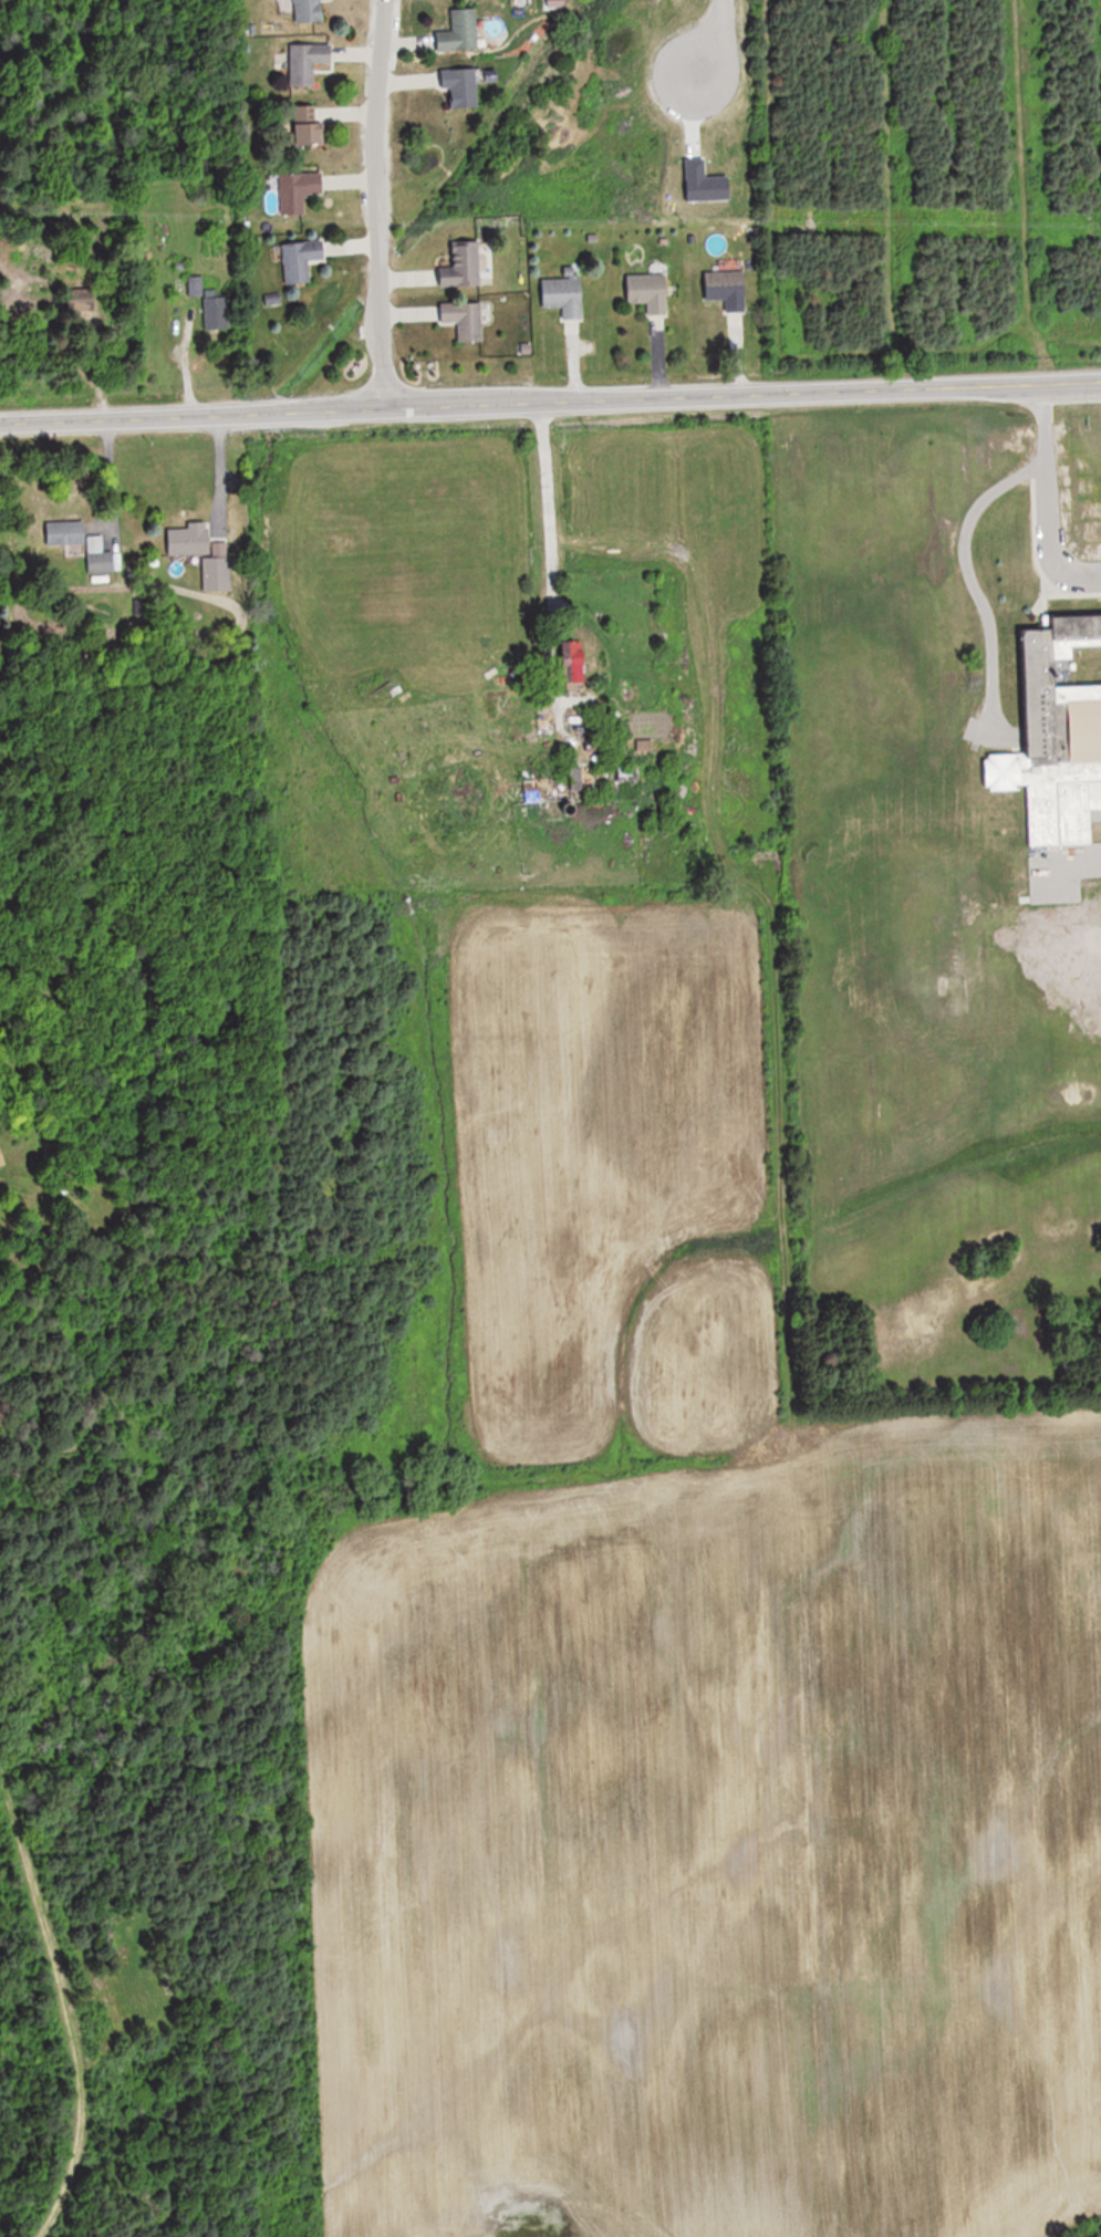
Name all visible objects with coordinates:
building: (310, 12)
building: (460, 32)
road: (713, 39)
building: (312, 65)
building: (463, 86)
building: (311, 127)
building: (299, 190)
road: (374, 202)
building: (302, 260)
building: (463, 264)
building: (728, 289)
building: (196, 291)
building: (650, 292)
building: (564, 295)
building: (217, 312)
building: (466, 320)
road: (550, 400)
road: (541, 498)
road: (1037, 506)
building: (66, 532)
building: (195, 542)
building: (101, 562)
building: (1057, 736)
building: (1, 1159)

